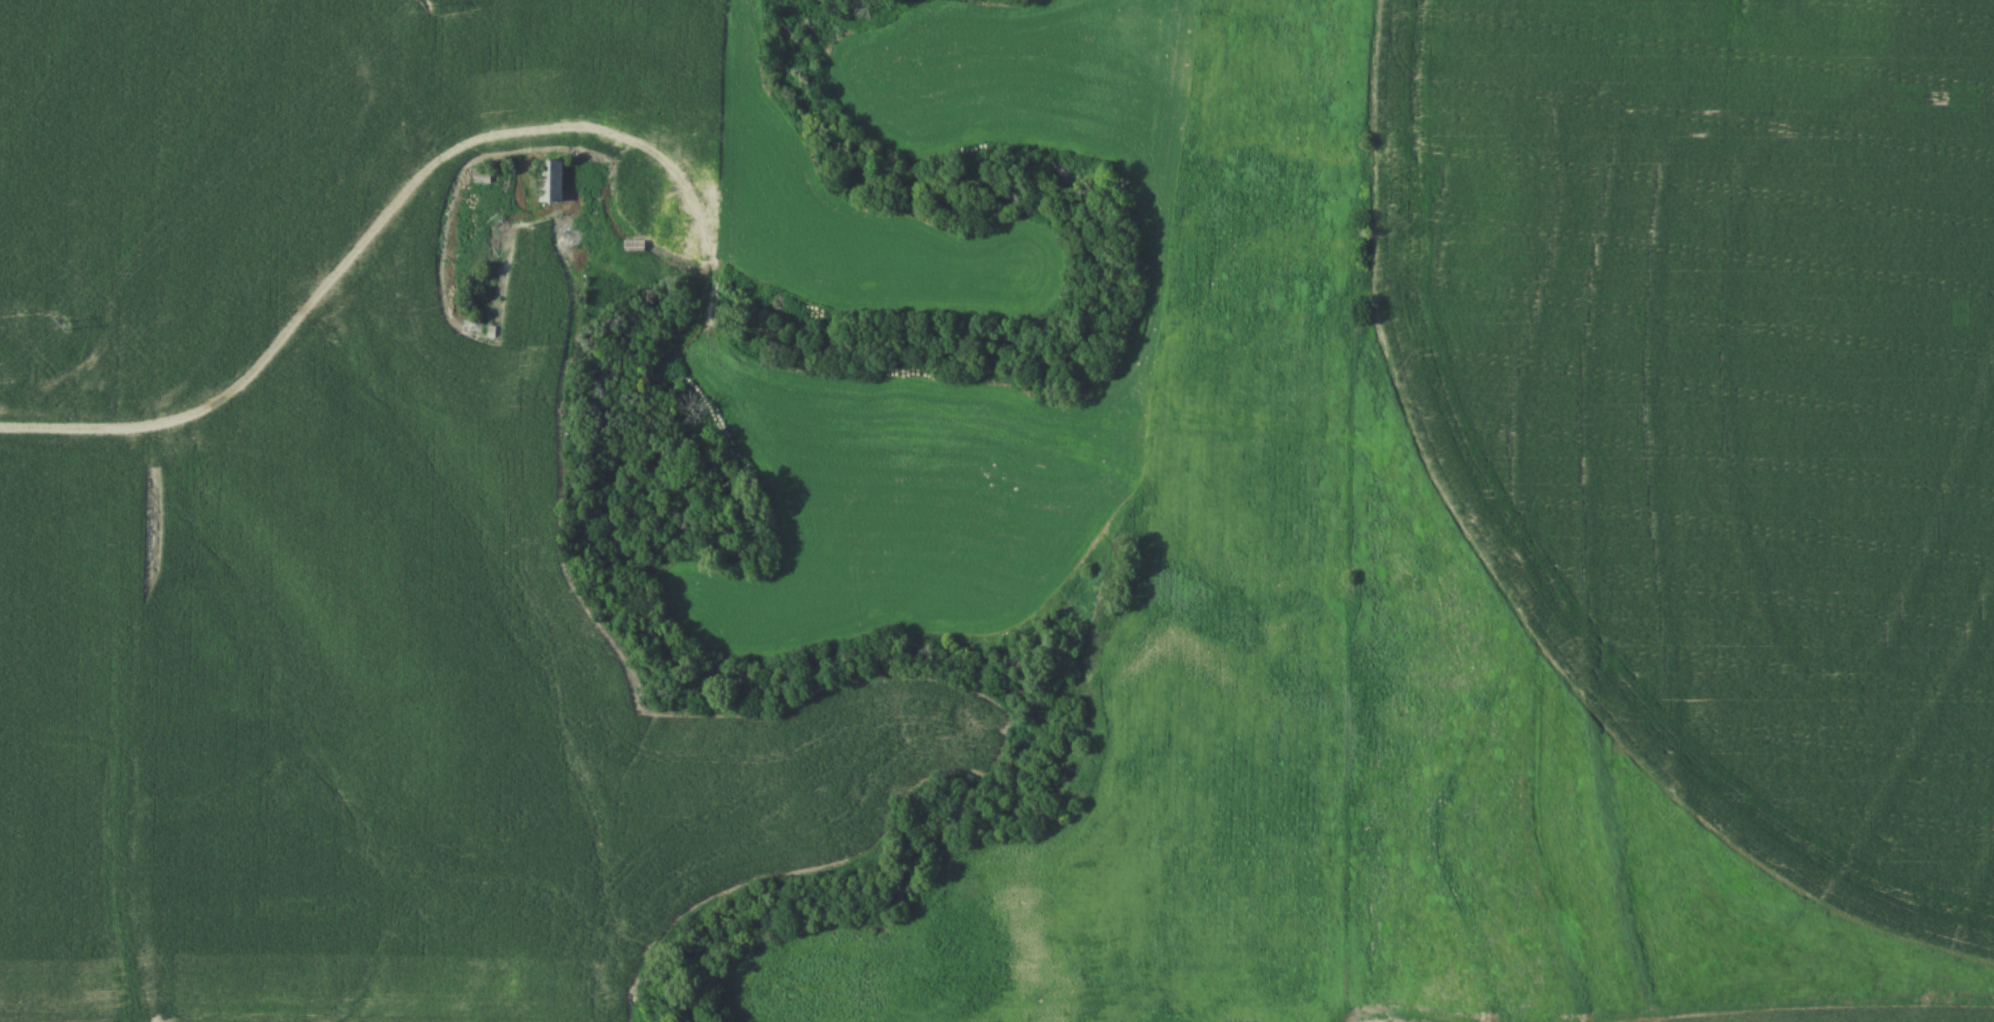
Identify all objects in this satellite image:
power tower: (424, 4)
building: (550, 182)
building: (632, 246)
power tower: (64, 327)
building: (470, 328)

